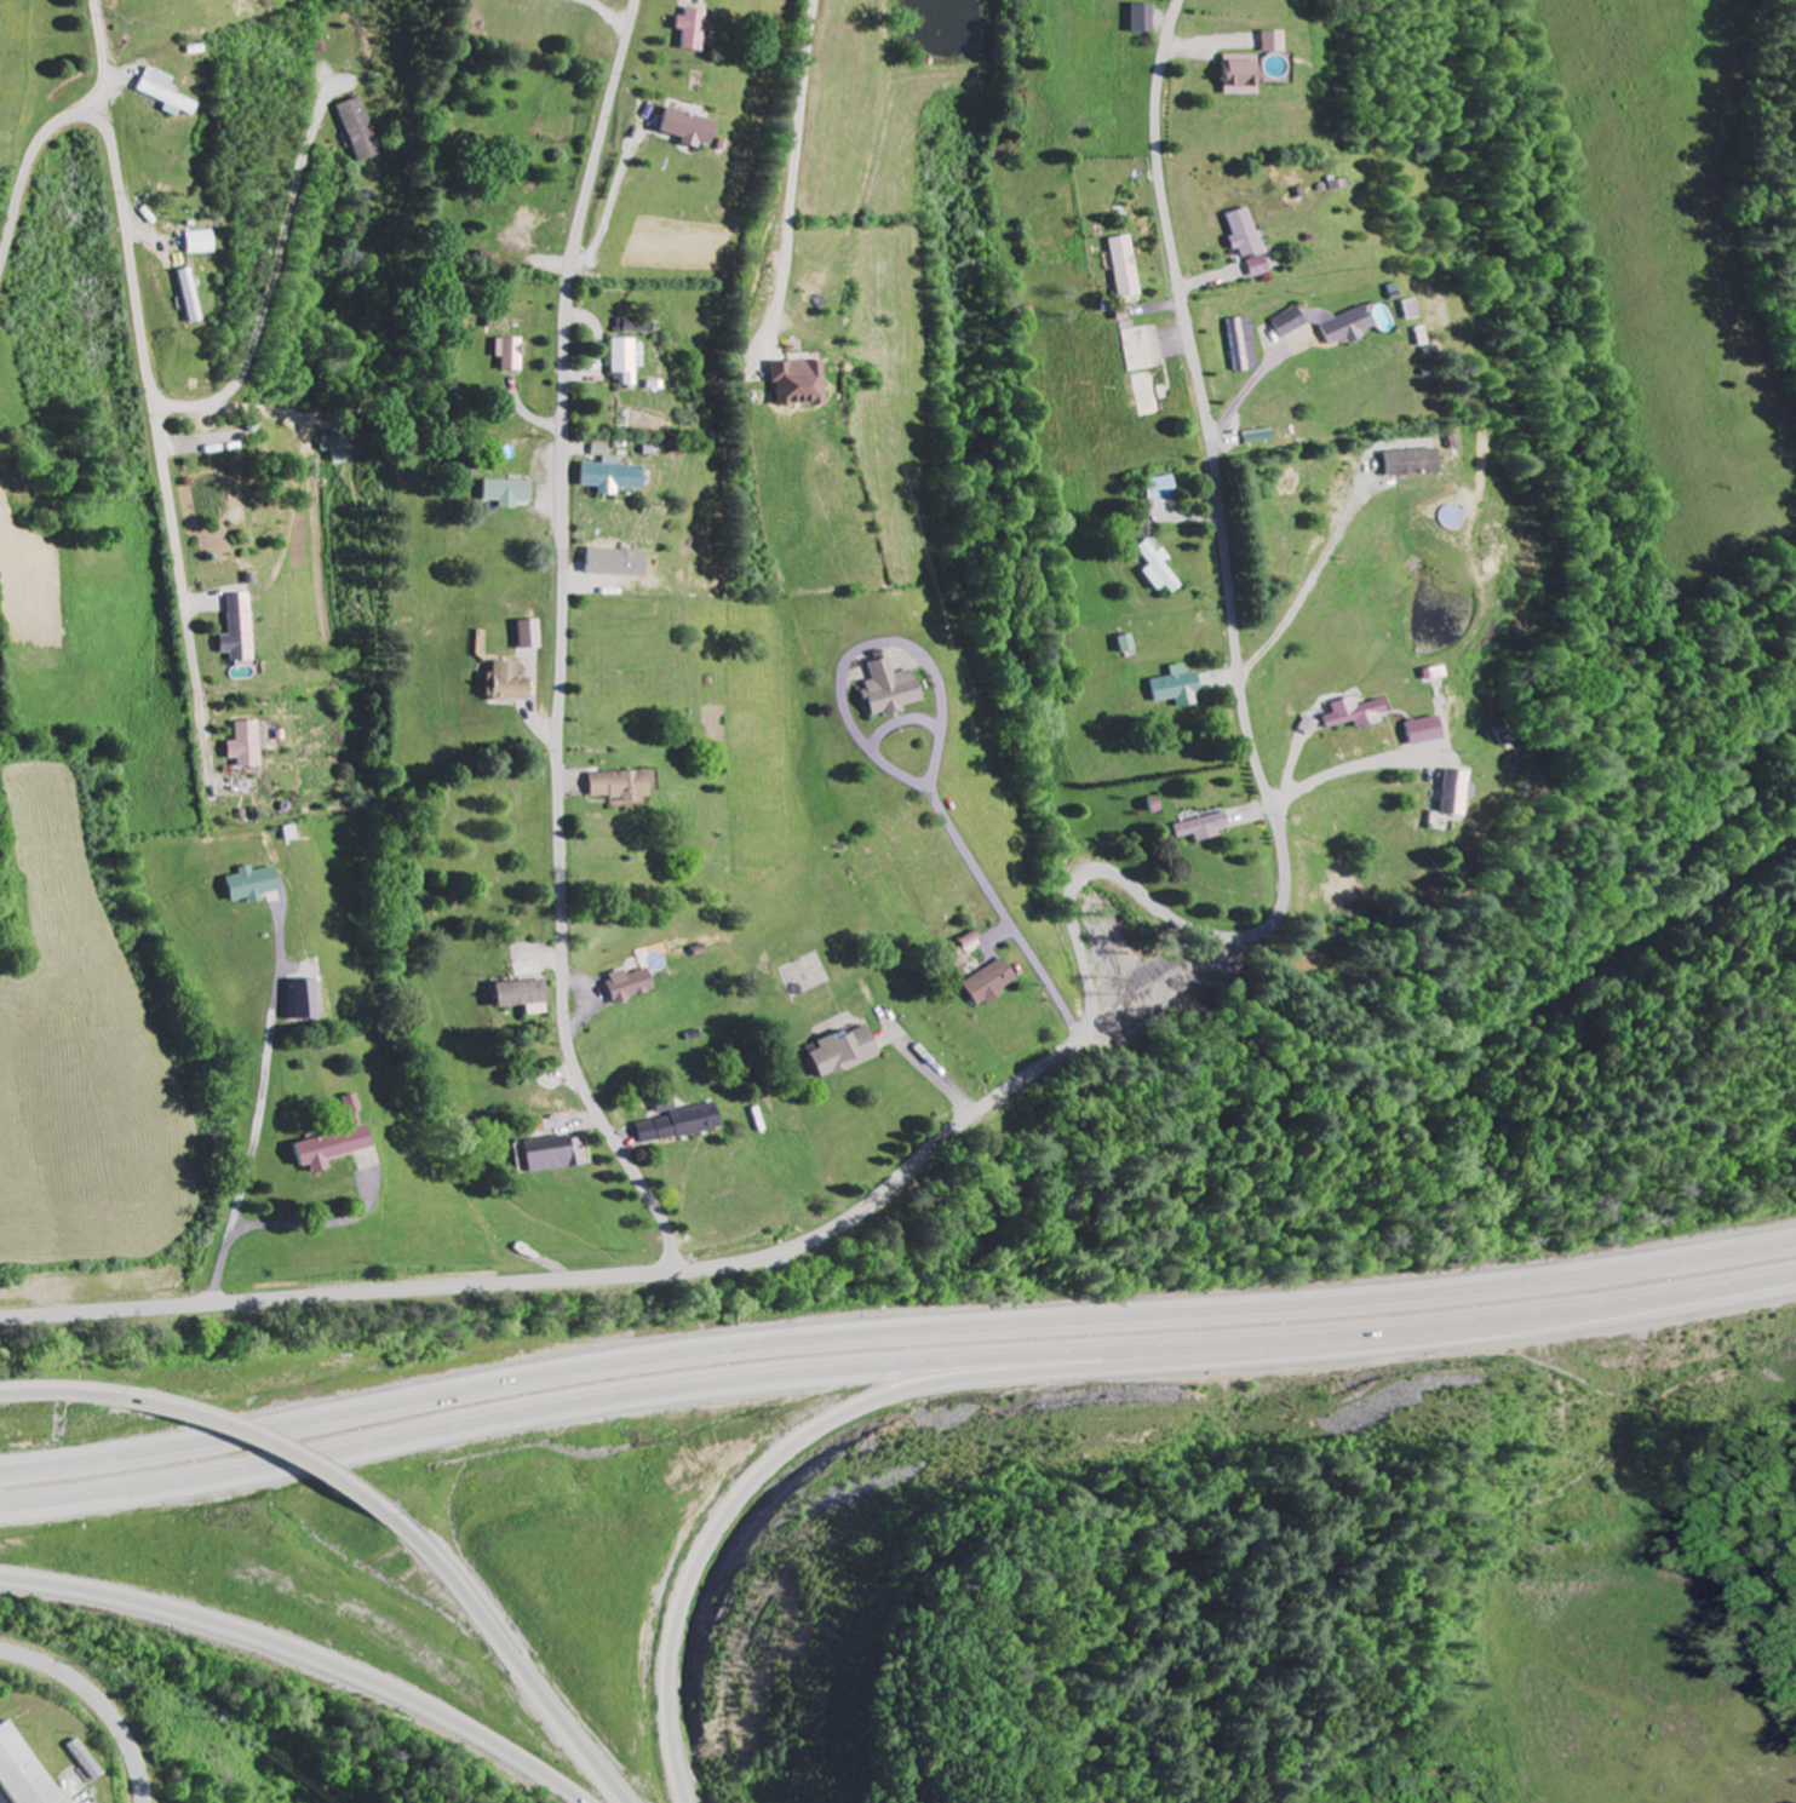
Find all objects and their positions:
building: (1146, 19)
building: (694, 31)
building: (1276, 44)
building: (1244, 74)
building: (167, 94)
building: (690, 130)
building: (362, 132)
building: (205, 243)
building: (1251, 243)
building: (1129, 268)
building: (194, 297)
building: (1384, 320)
building: (1331, 325)
building: (1245, 350)
building: (513, 355)
building: (630, 362)
building: (807, 385)
building: (340, 448)
building: (603, 450)
building: (1415, 465)
building: (614, 478)
building: (1164, 488)
building: (512, 494)
road: (880, 527)
building: (619, 564)
building: (1161, 570)
building: (243, 631)
building: (535, 636)
road: (563, 643)
building: (1131, 645)
road: (1238, 655)
building: (513, 684)
building: (1182, 689)
building: (895, 691)
building: (1365, 716)
building: (1431, 733)
building: (251, 747)
building: (629, 788)
building: (1462, 794)
building: (1209, 829)
road: (964, 844)
building: (257, 885)
building: (994, 983)
building: (635, 986)
building: (527, 997)
building: (851, 1051)
road: (959, 1122)
building: (682, 1125)
road: (262, 1129)
building: (343, 1150)
building: (558, 1154)
road: (431, 1286)
road: (895, 1327)
road: (895, 1370)
road: (64, 1390)
road: (263, 1437)
road: (729, 1512)
road: (305, 1654)
road: (503, 1654)
road: (97, 1702)
building: (85, 1761)
building: (25, 1770)

